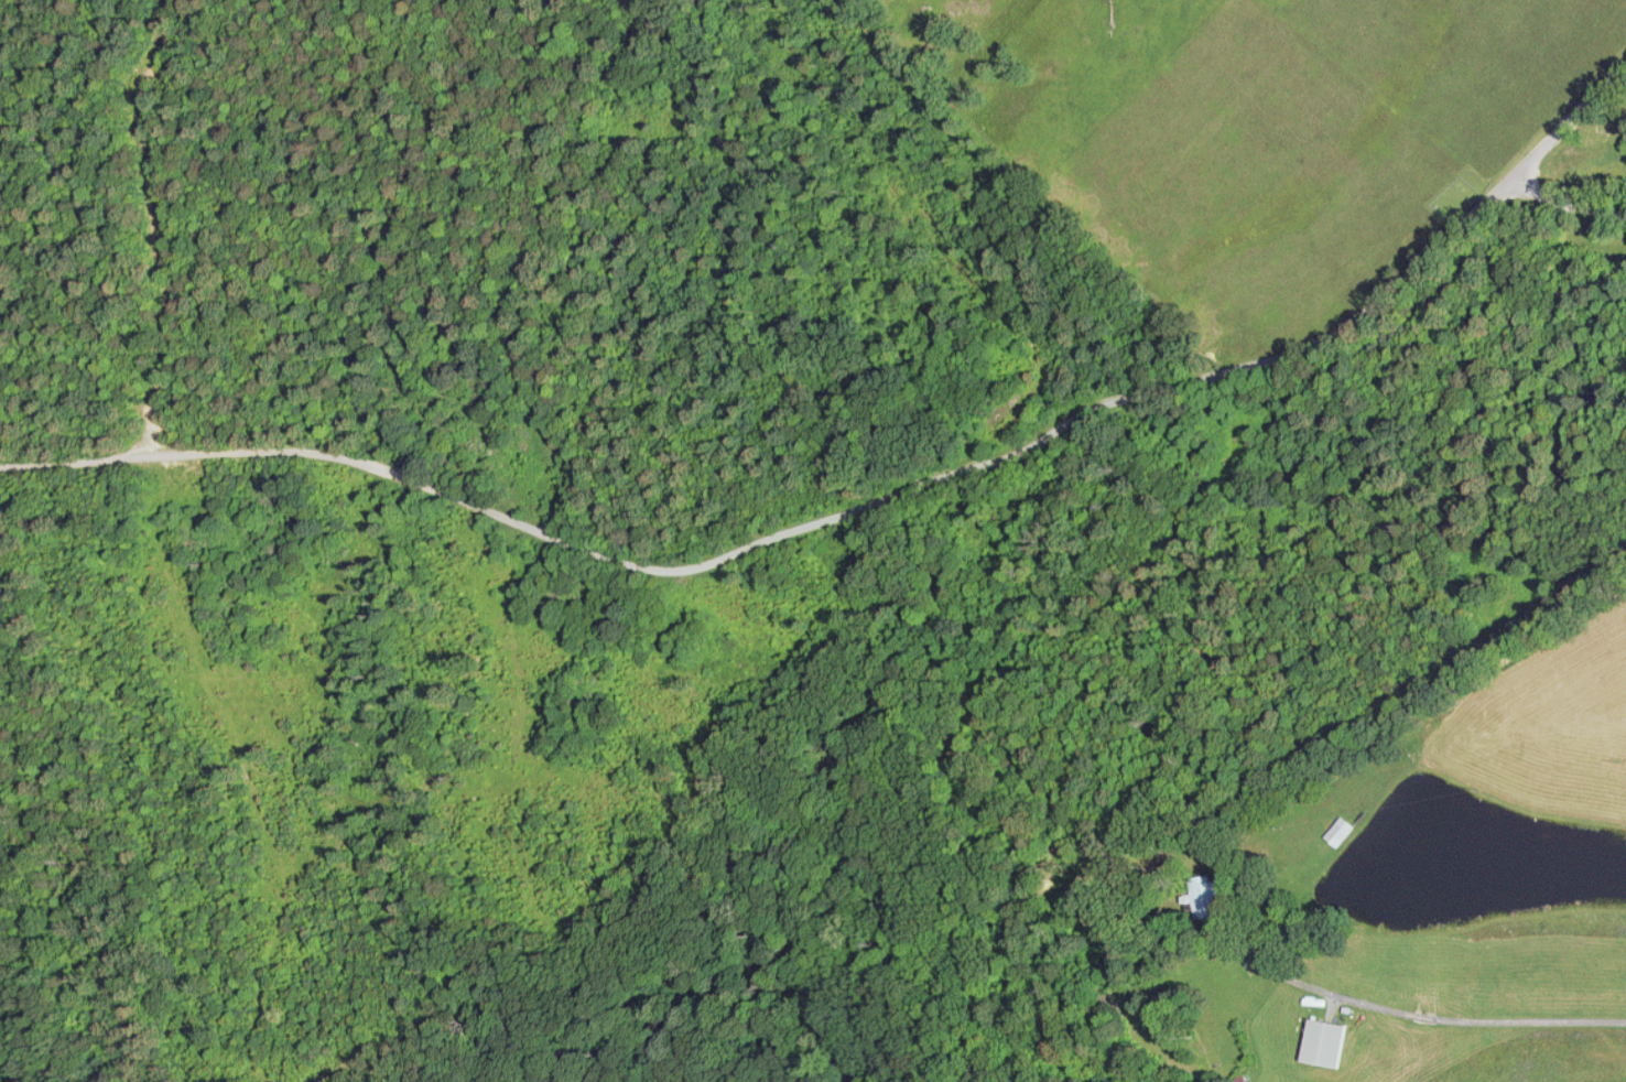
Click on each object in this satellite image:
road: (1567, 202)
road: (865, 505)
building: (1335, 833)
building: (1202, 899)
road: (1433, 1016)
building: (1304, 1041)

